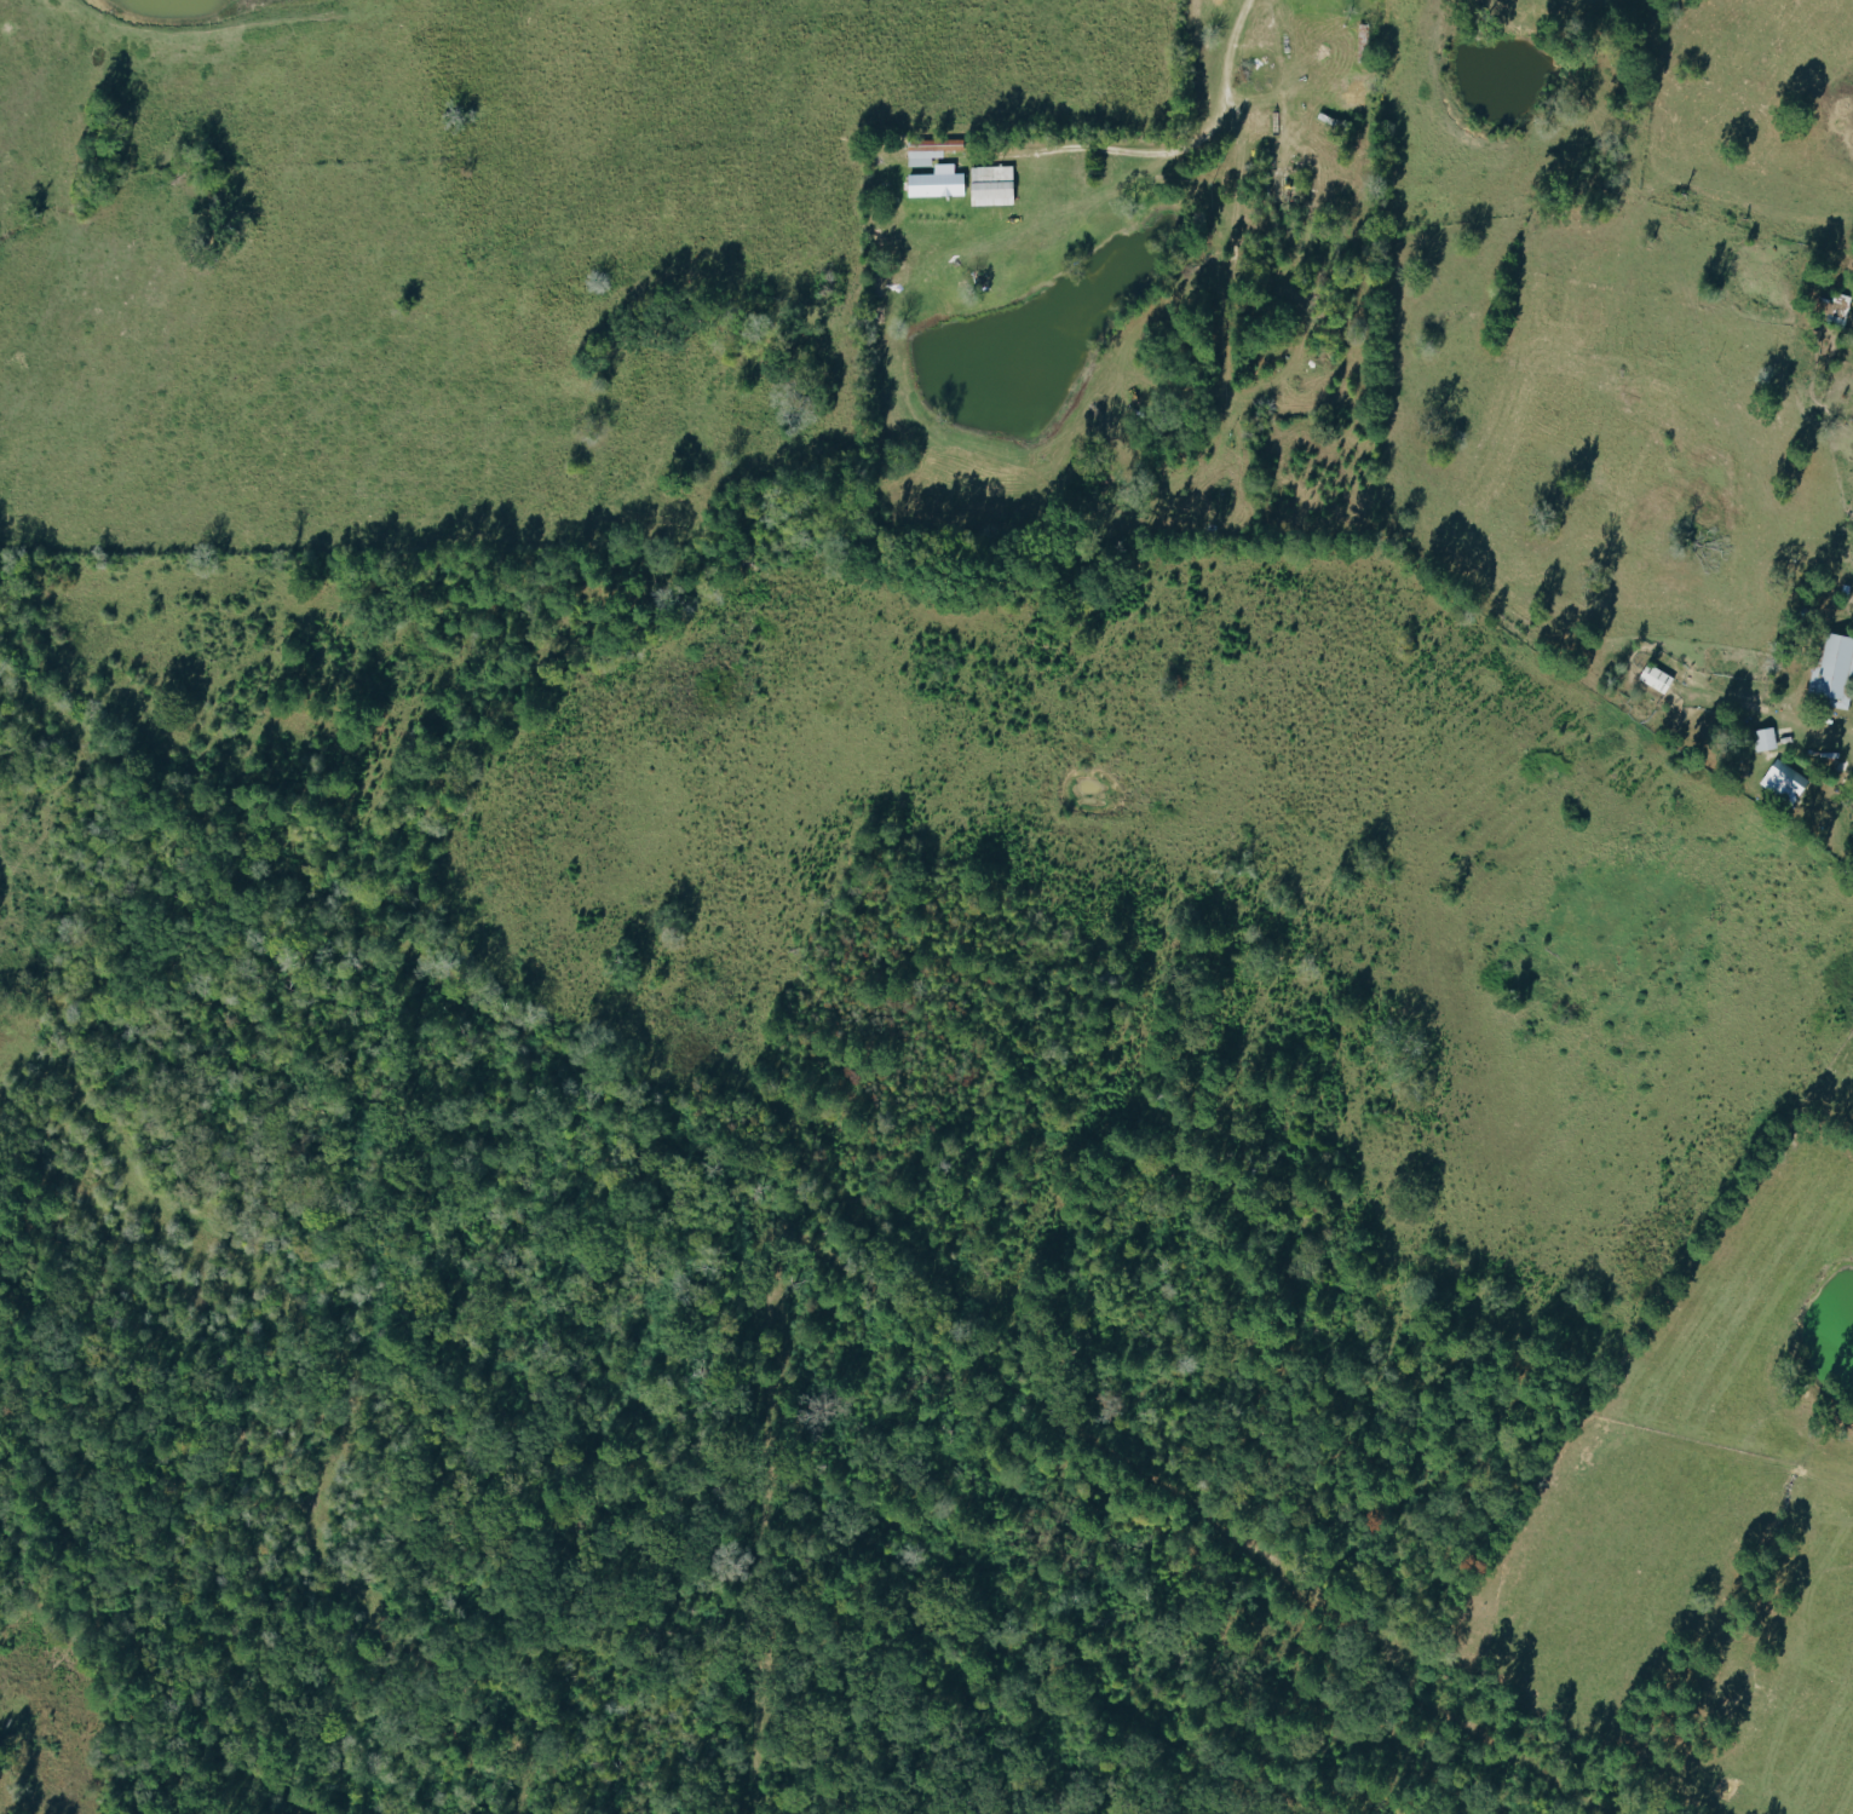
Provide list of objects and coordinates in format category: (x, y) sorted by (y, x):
road: (1247, 97)
road: (1143, 159)
building: (938, 180)
building: (992, 184)
building: (1834, 668)
road: (1847, 726)
building: (1765, 739)
building: (1785, 781)

